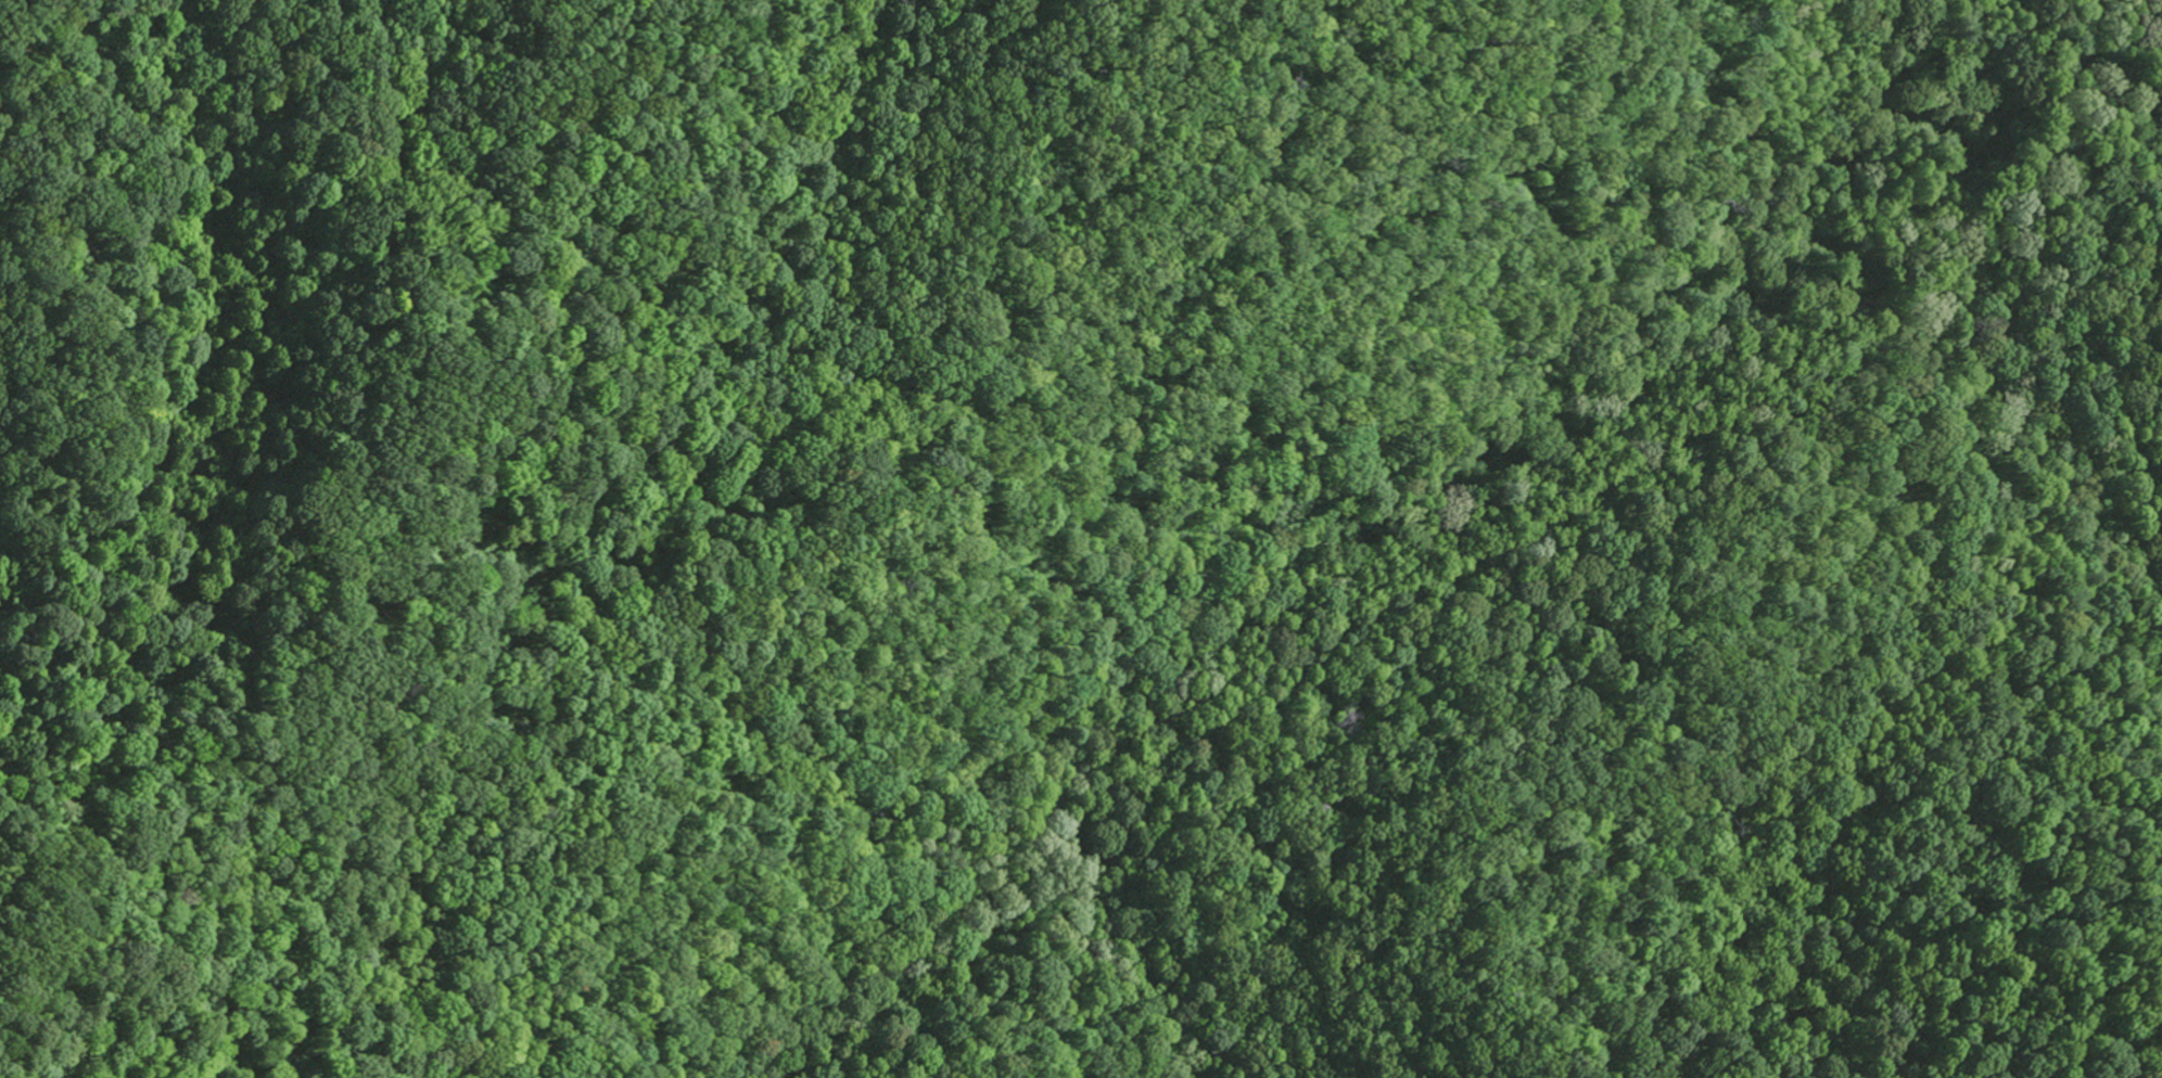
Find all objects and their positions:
road: (2149, 12)

